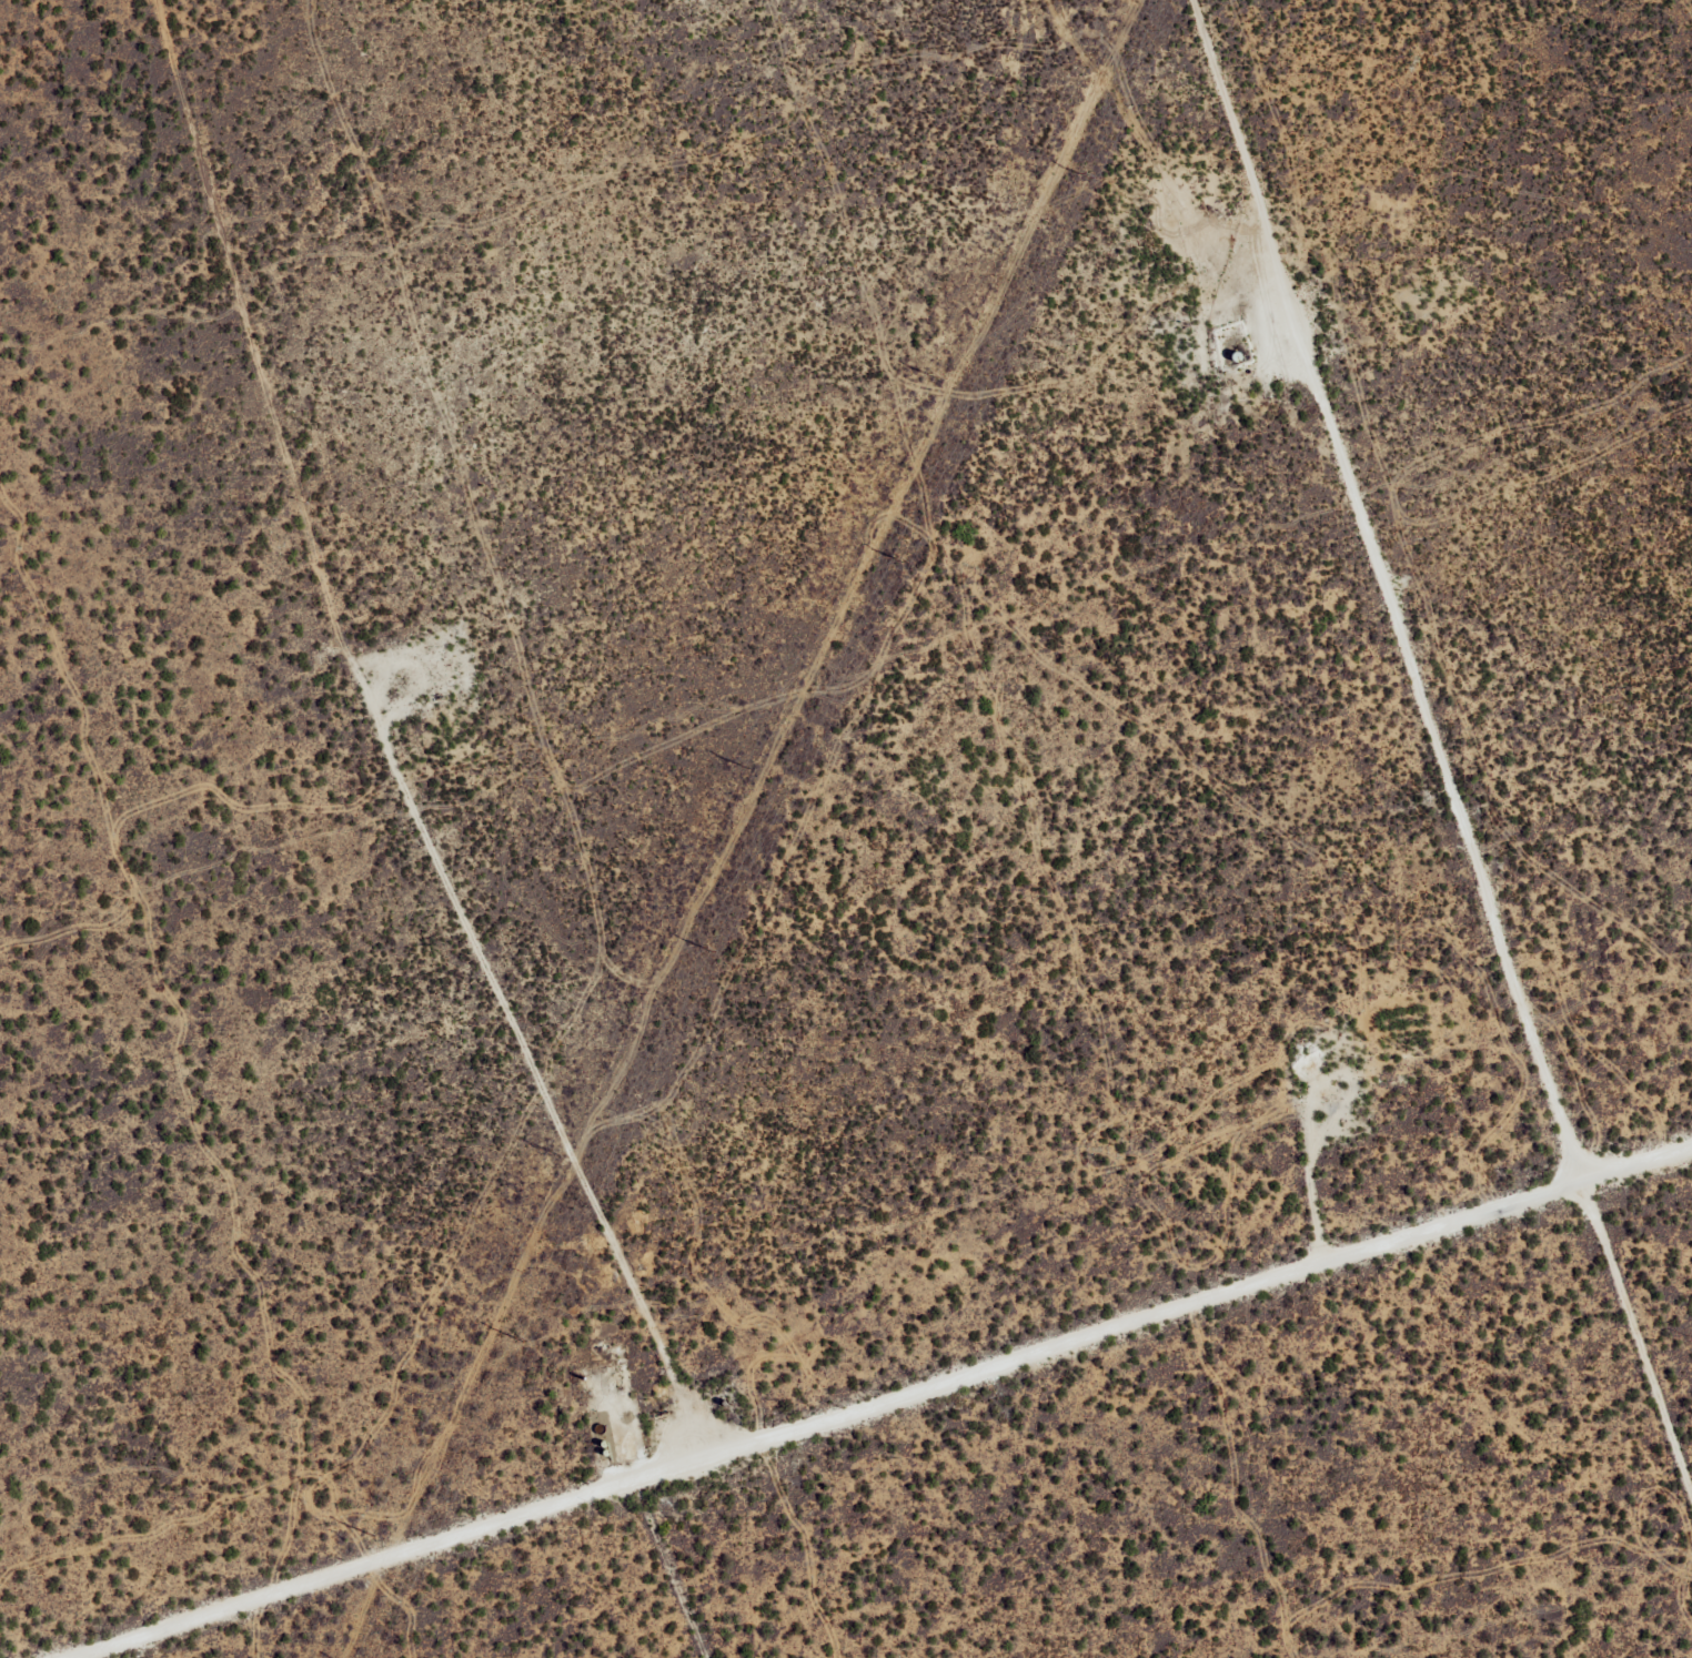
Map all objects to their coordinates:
power tower: (1084, 176)
power tower: (930, 376)
power tower: (897, 560)
road: (426, 747)
road: (1443, 752)
power tower: (741, 768)
power tower: (708, 950)
power tower: (553, 1154)
power tower: (518, 1341)
road: (930, 1405)
power tower: (366, 1536)
road: (686, 1580)

